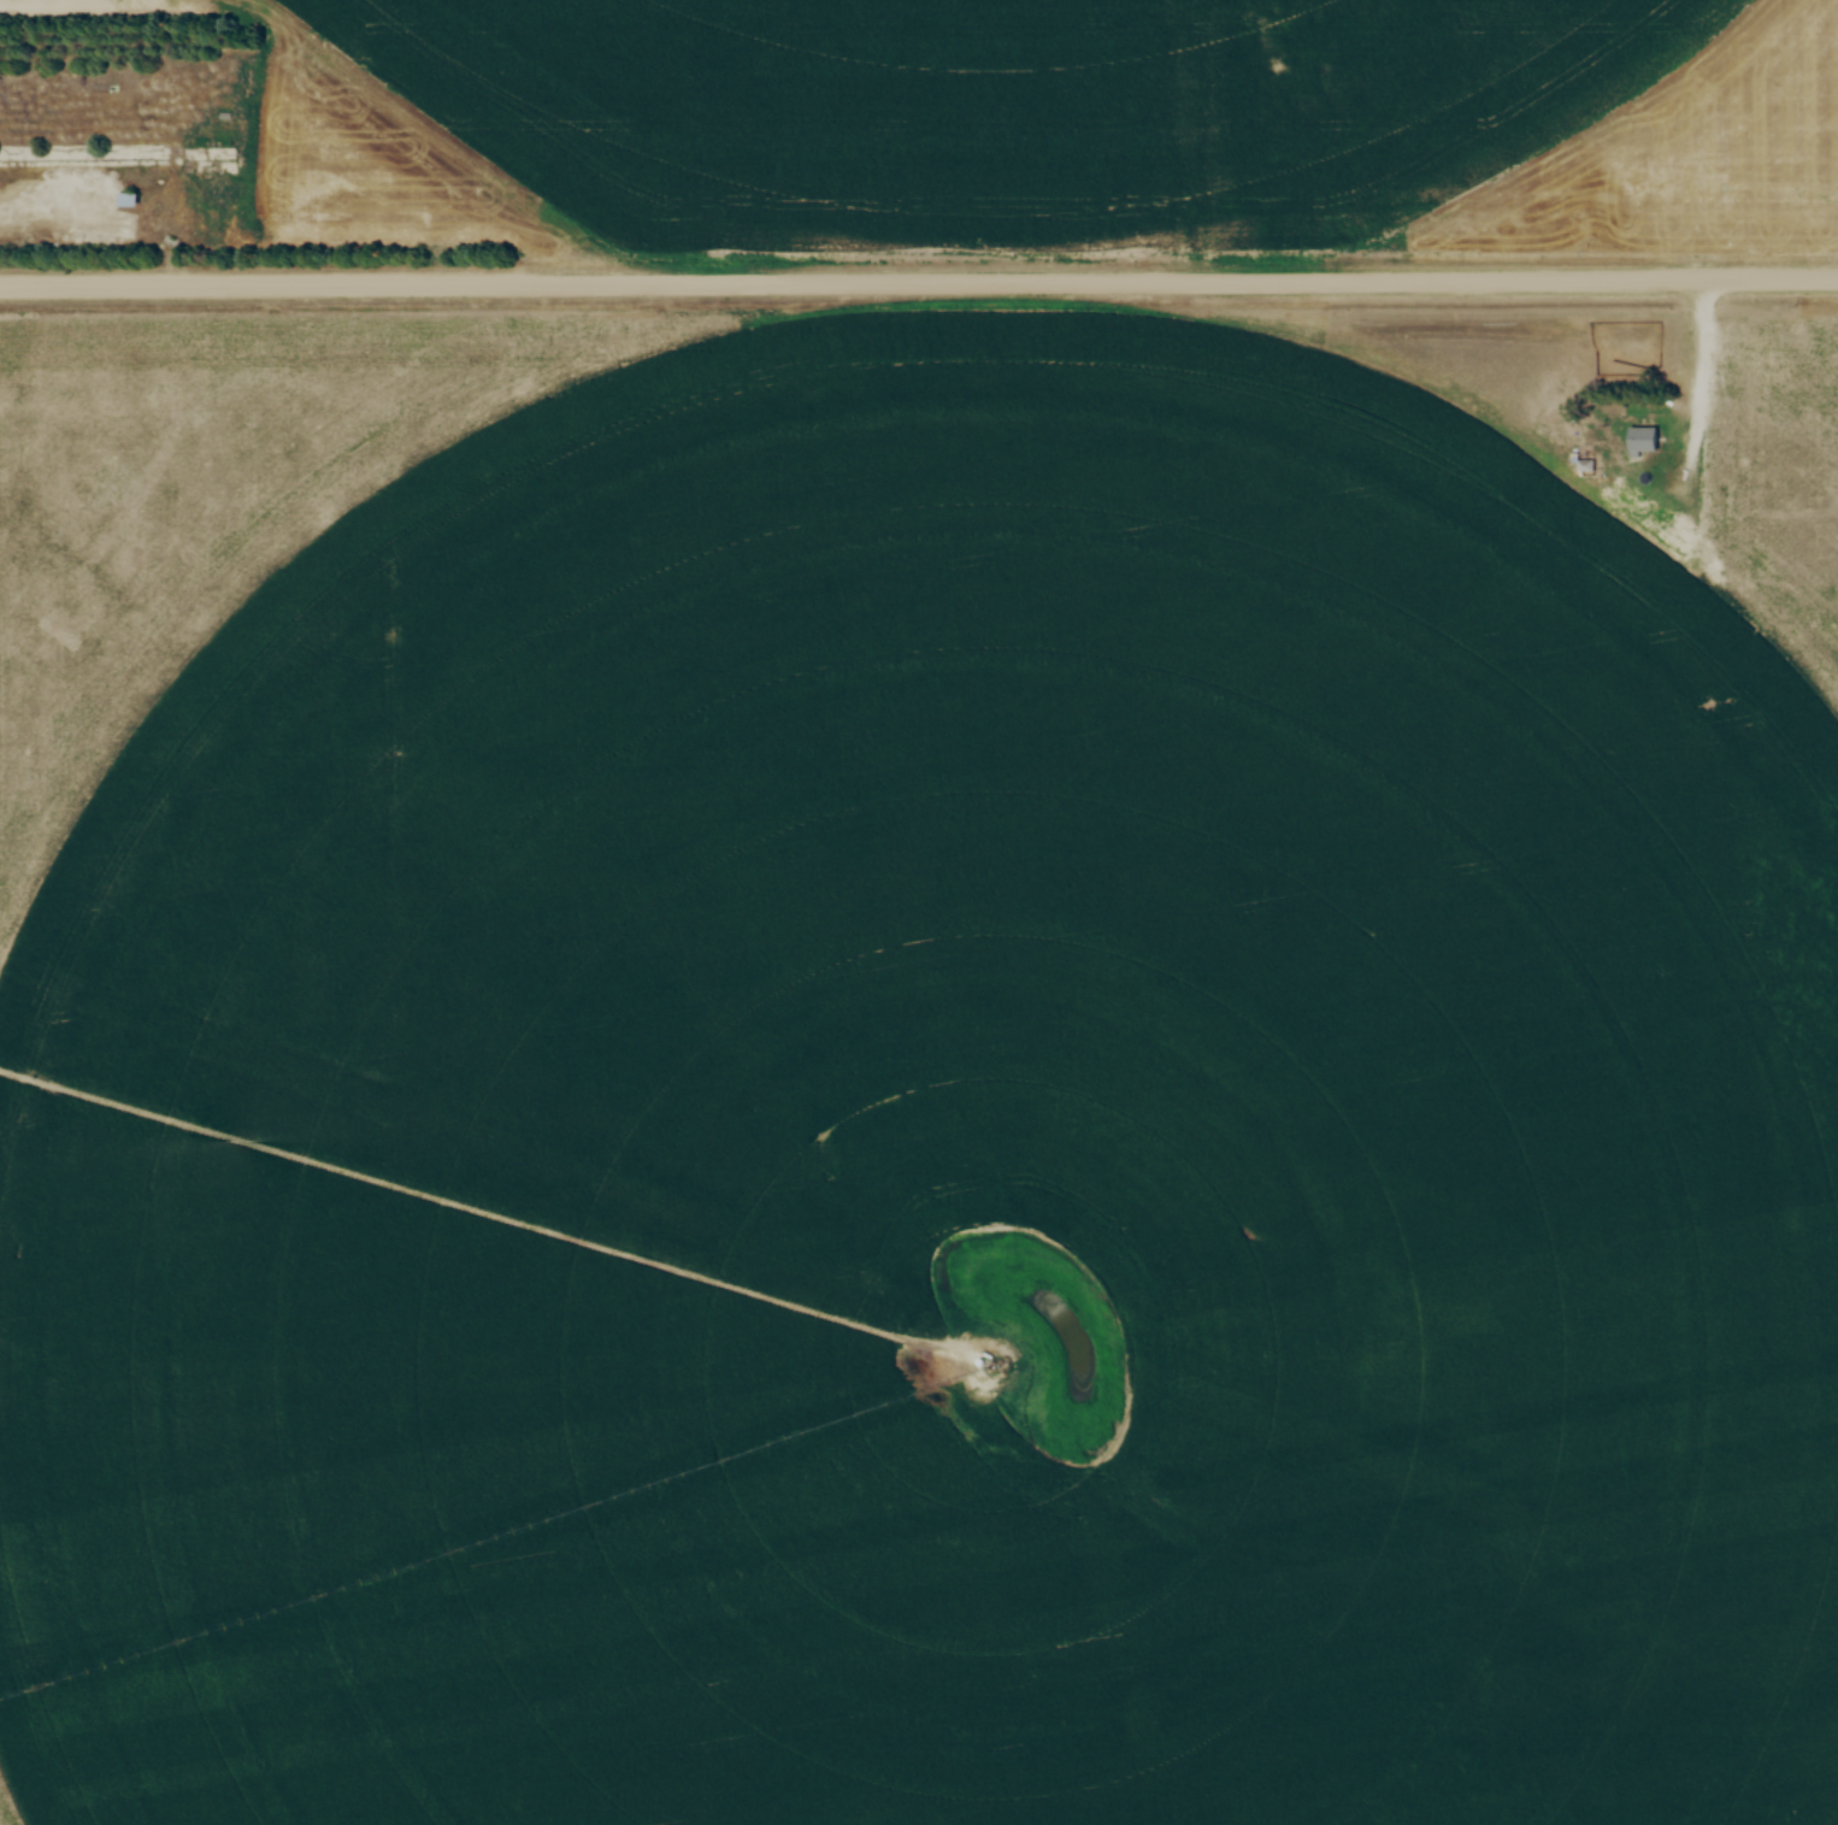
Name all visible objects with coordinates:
road: (1192, 141)
building: (128, 199)
road: (919, 284)
road: (1697, 392)
building: (1646, 437)

